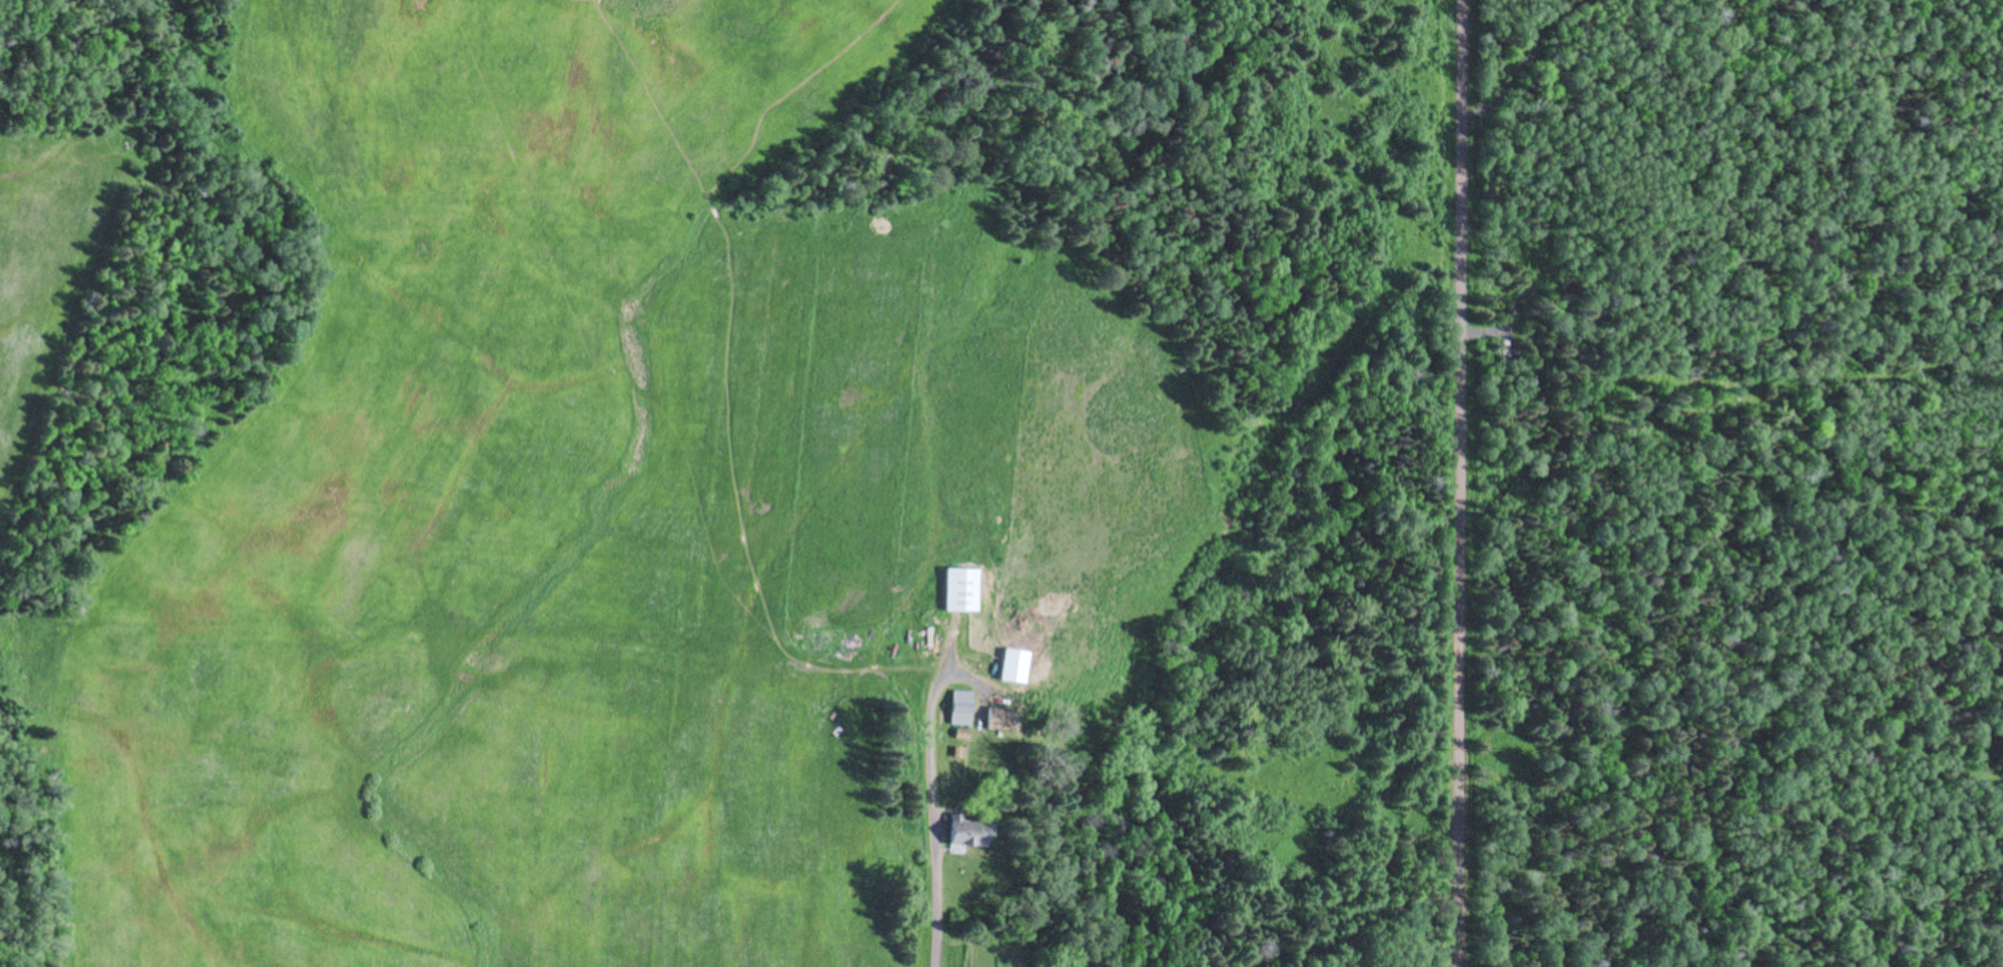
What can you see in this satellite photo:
road: (1457, 483)
building: (964, 591)
building: (963, 708)
building: (1002, 720)
building: (969, 832)
road: (928, 858)

